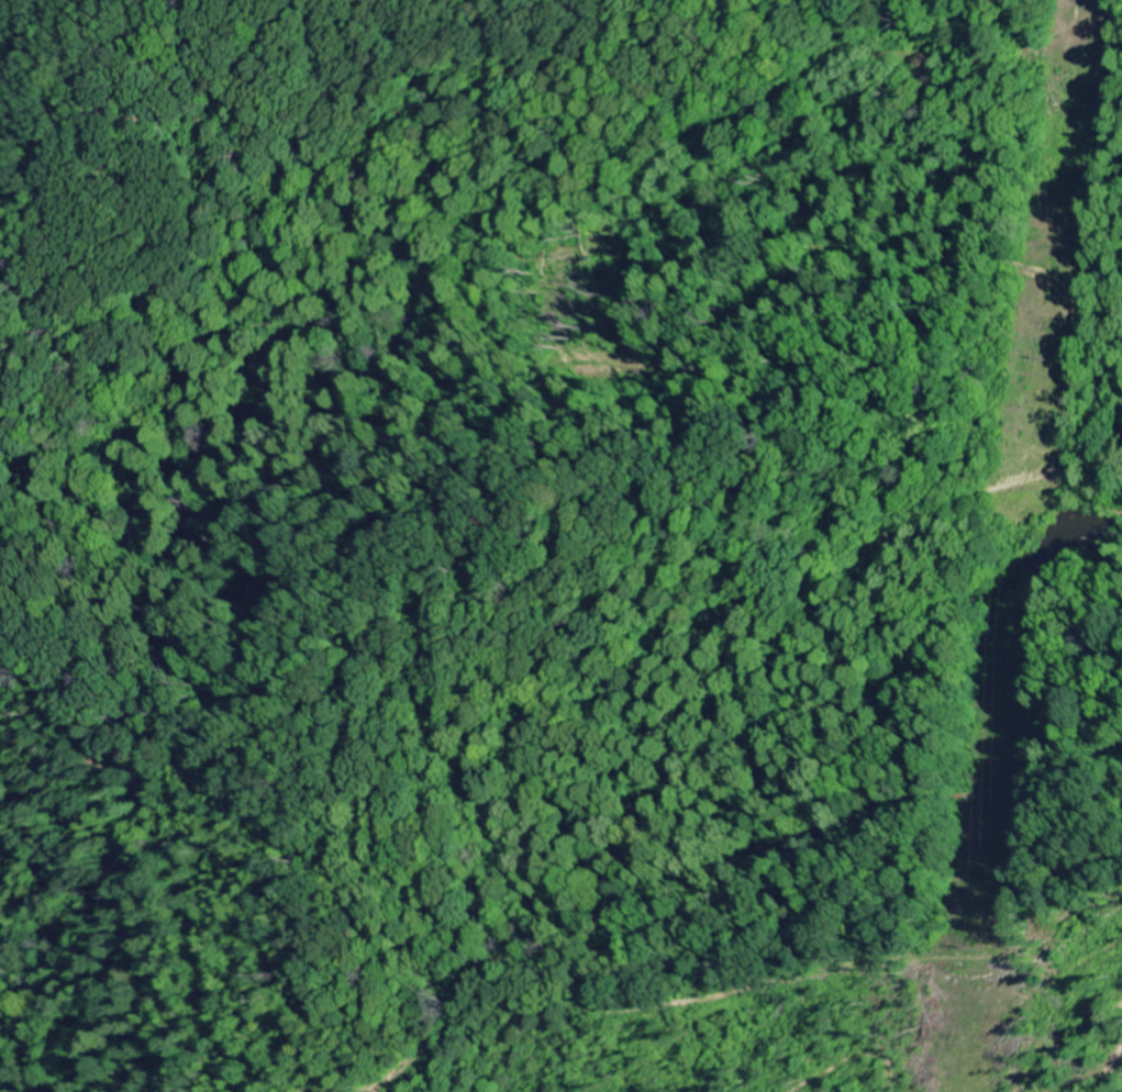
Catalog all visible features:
power tower: (1032, 355)
power tower: (967, 948)

